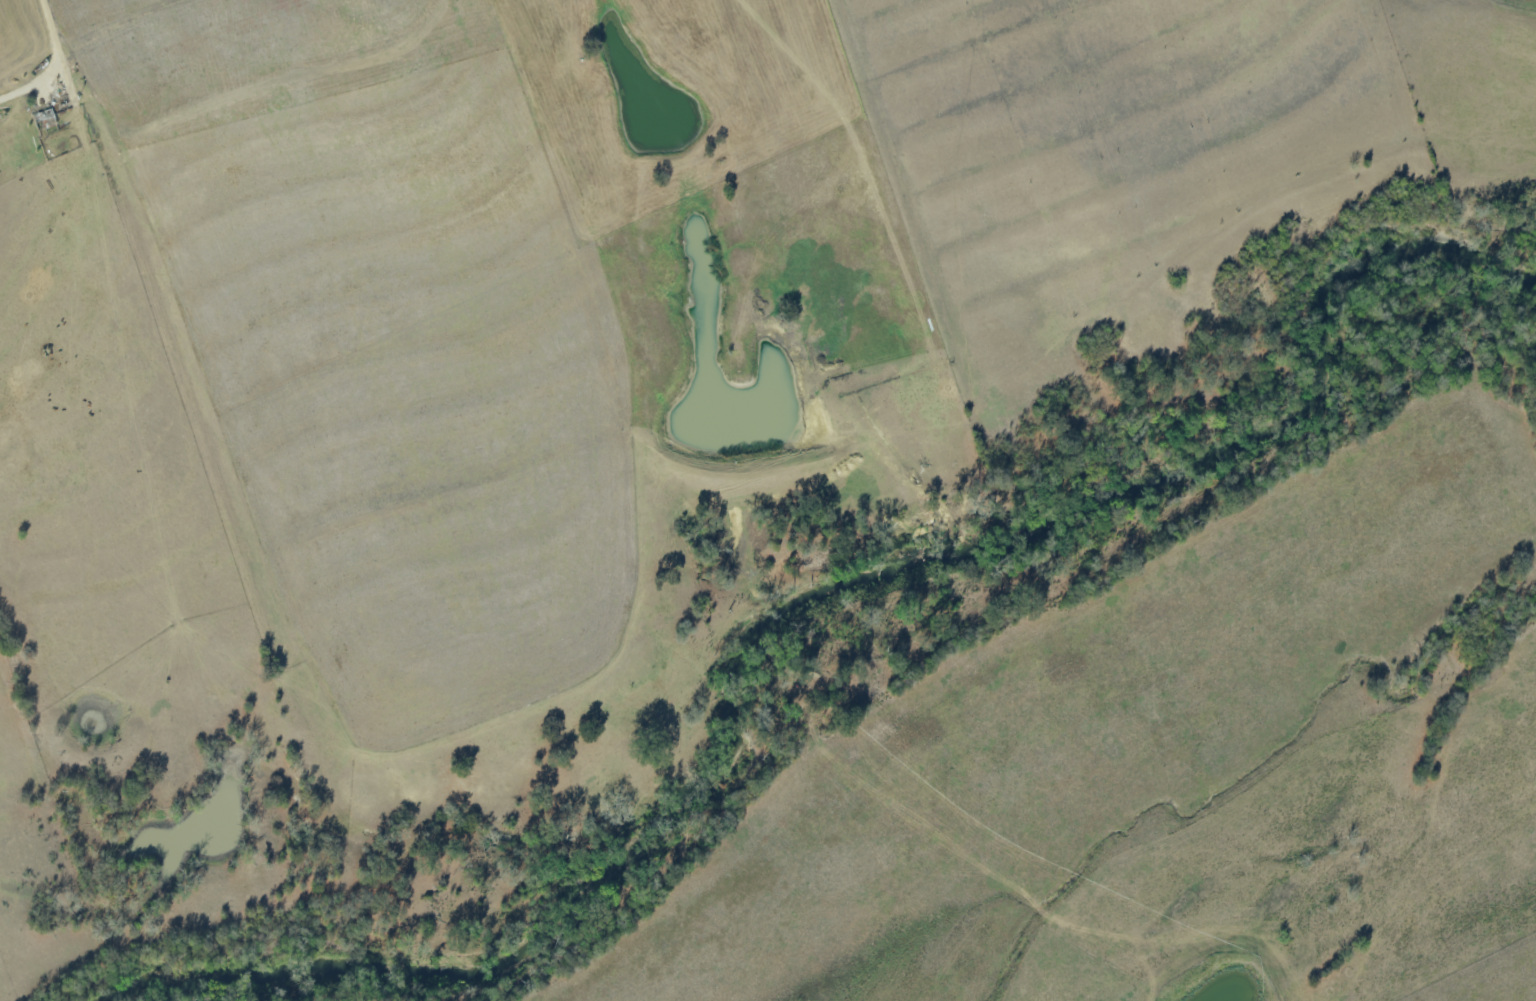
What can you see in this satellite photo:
road: (51, 42)

